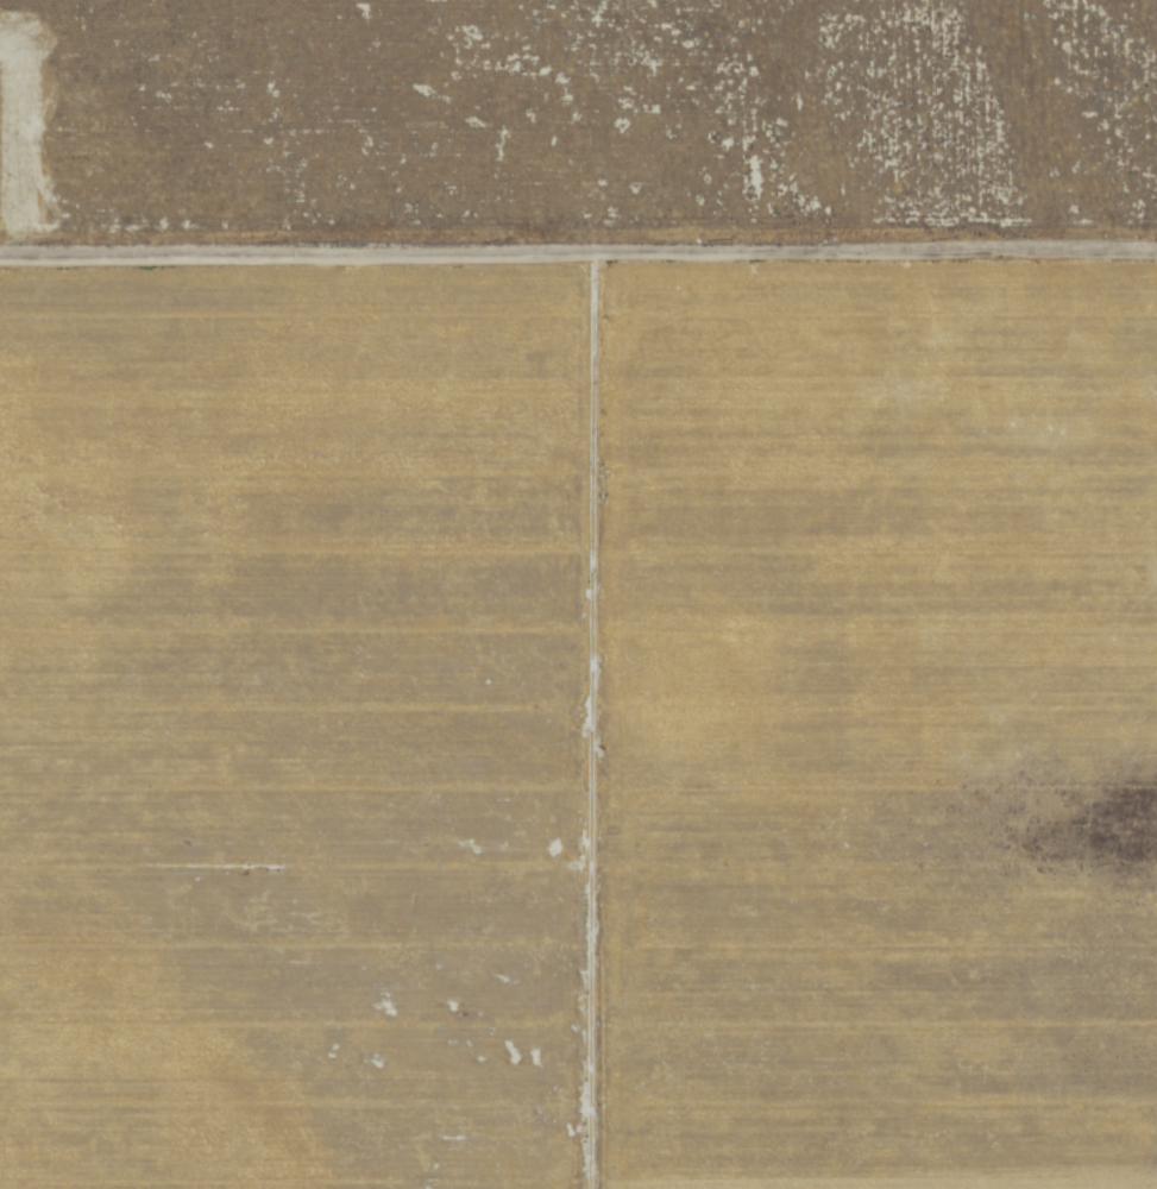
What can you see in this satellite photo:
road: (578, 258)
crop: (874, 726)
crop: (291, 728)

